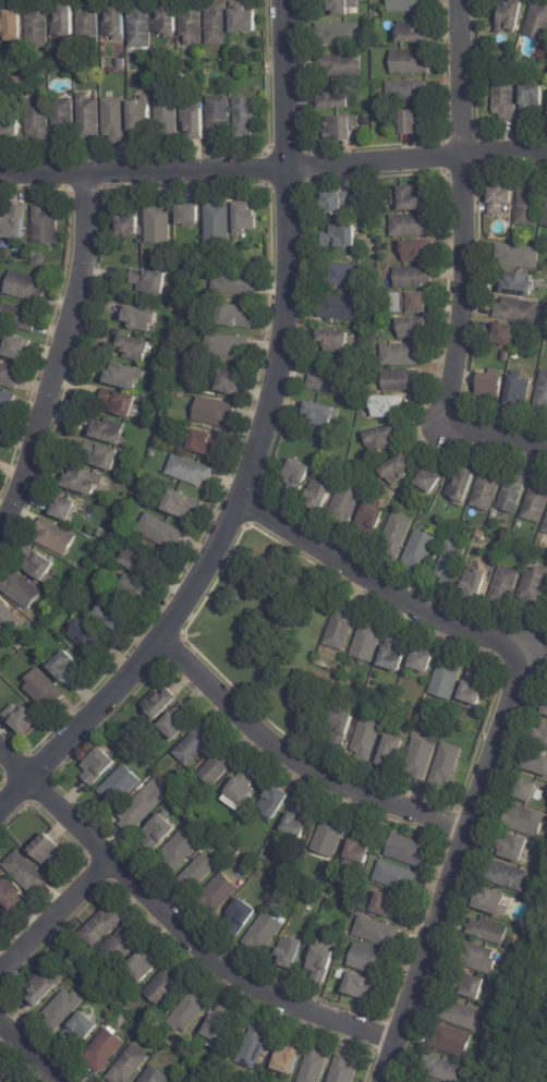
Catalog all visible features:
building: (408, 5)
building: (345, 7)
building: (512, 15)
building: (243, 19)
building: (168, 20)
building: (537, 20)
building: (116, 22)
building: (65, 23)
building: (193, 23)
building: (218, 24)
building: (13, 25)
building: (89, 25)
building: (142, 25)
building: (38, 26)
building: (412, 32)
building: (341, 33)
building: (411, 61)
building: (121, 62)
building: (342, 65)
building: (72, 69)
building: (522, 72)
building: (147, 78)
building: (16, 82)
building: (410, 92)
building: (338, 97)
building: (506, 97)
building: (532, 100)
building: (141, 114)
building: (169, 116)
building: (245, 116)
building: (219, 117)
building: (88, 118)
building: (38, 119)
building: (62, 119)
building: (116, 119)
building: (416, 121)
building: (195, 122)
building: (341, 127)
building: (10, 129)
road: (273, 166)
building: (416, 198)
building: (500, 198)
building: (340, 202)
building: (530, 204)
building: (190, 215)
building: (246, 217)
building: (546, 220)
building: (219, 221)
building: (159, 222)
building: (15, 223)
building: (46, 224)
building: (129, 224)
building: (412, 226)
building: (341, 238)
building: (418, 250)
building: (520, 256)
building: (36, 262)
road: (461, 266)
building: (348, 276)
building: (414, 277)
building: (150, 281)
building: (236, 283)
building: (522, 284)
building: (26, 287)
building: (417, 302)
building: (340, 307)
building: (519, 311)
building: (236, 316)
building: (17, 318)
building: (142, 318)
building: (414, 327)
building: (506, 333)
building: (336, 340)
building: (228, 345)
building: (19, 348)
building: (135, 348)
building: (178, 350)
road: (59, 352)
building: (403, 355)
building: (514, 355)
building: (9, 376)
building: (124, 378)
building: (402, 380)
building: (232, 382)
building: (332, 382)
building: (494, 386)
building: (379, 390)
building: (519, 391)
building: (542, 392)
building: (158, 394)
building: (145, 399)
building: (121, 402)
building: (7, 403)
building: (386, 405)
building: (216, 412)
building: (324, 414)
building: (166, 422)
building: (111, 431)
building: (1, 435)
building: (382, 439)
building: (206, 442)
road: (257, 448)
building: (104, 455)
building: (398, 469)
building: (190, 471)
building: (299, 474)
building: (430, 481)
building: (83, 482)
building: (462, 488)
building: (488, 489)
building: (512, 493)
building: (323, 495)
building: (536, 501)
building: (183, 504)
building: (347, 506)
building: (66, 508)
building: (139, 508)
building: (370, 520)
building: (546, 528)
building: (160, 532)
building: (100, 533)
building: (398, 533)
building: (482, 535)
building: (56, 537)
building: (421, 551)
building: (137, 561)
building: (452, 563)
building: (39, 566)
building: (477, 585)
building: (506, 588)
building: (534, 588)
building: (20, 589)
building: (138, 591)
building: (112, 615)
building: (8, 619)
park: (252, 624)
building: (342, 628)
building: (86, 635)
building: (1, 640)
building: (369, 641)
building: (394, 654)
building: (424, 661)
building: (68, 668)
building: (448, 679)
building: (473, 686)
building: (44, 691)
building: (161, 705)
building: (545, 709)
road: (509, 716)
building: (23, 720)
building: (178, 721)
building: (343, 727)
building: (540, 737)
building: (367, 738)
building: (196, 746)
building: (391, 753)
building: (422, 758)
road: (297, 763)
building: (447, 765)
building: (537, 765)
building: (99, 767)
building: (218, 767)
building: (244, 786)
building: (121, 787)
building: (173, 792)
building: (532, 792)
building: (275, 805)
building: (143, 809)
building: (193, 811)
building: (299, 820)
building: (526, 822)
building: (160, 830)
building: (330, 836)
building: (182, 849)
building: (360, 849)
building: (514, 849)
building: (48, 851)
building: (409, 852)
building: (25, 873)
building: (198, 874)
building: (397, 877)
building: (509, 877)
building: (218, 895)
building: (11, 896)
building: (493, 903)
building: (388, 908)
building: (241, 917)
road: (52, 920)
building: (2, 921)
building: (102, 927)
road: (174, 929)
building: (488, 932)
building: (377, 933)
building: (264, 934)
building: (124, 945)
building: (291, 953)
building: (479, 959)
building: (370, 960)
building: (323, 963)
building: (146, 964)
building: (166, 987)
building: (364, 988)
building: (44, 989)
building: (472, 989)
building: (509, 989)
building: (63, 1010)
building: (190, 1012)
building: (462, 1017)
building: (221, 1026)
building: (80, 1030)
building: (491, 1032)
building: (450, 1041)
building: (255, 1048)
building: (181, 1049)
building: (104, 1051)
road: (31, 1055)
building: (288, 1058)
building: (130, 1066)
building: (315, 1066)
building: (345, 1070)
building: (441, 1070)
building: (156, 1077)
building: (5, 1078)
building: (414, 1081)

